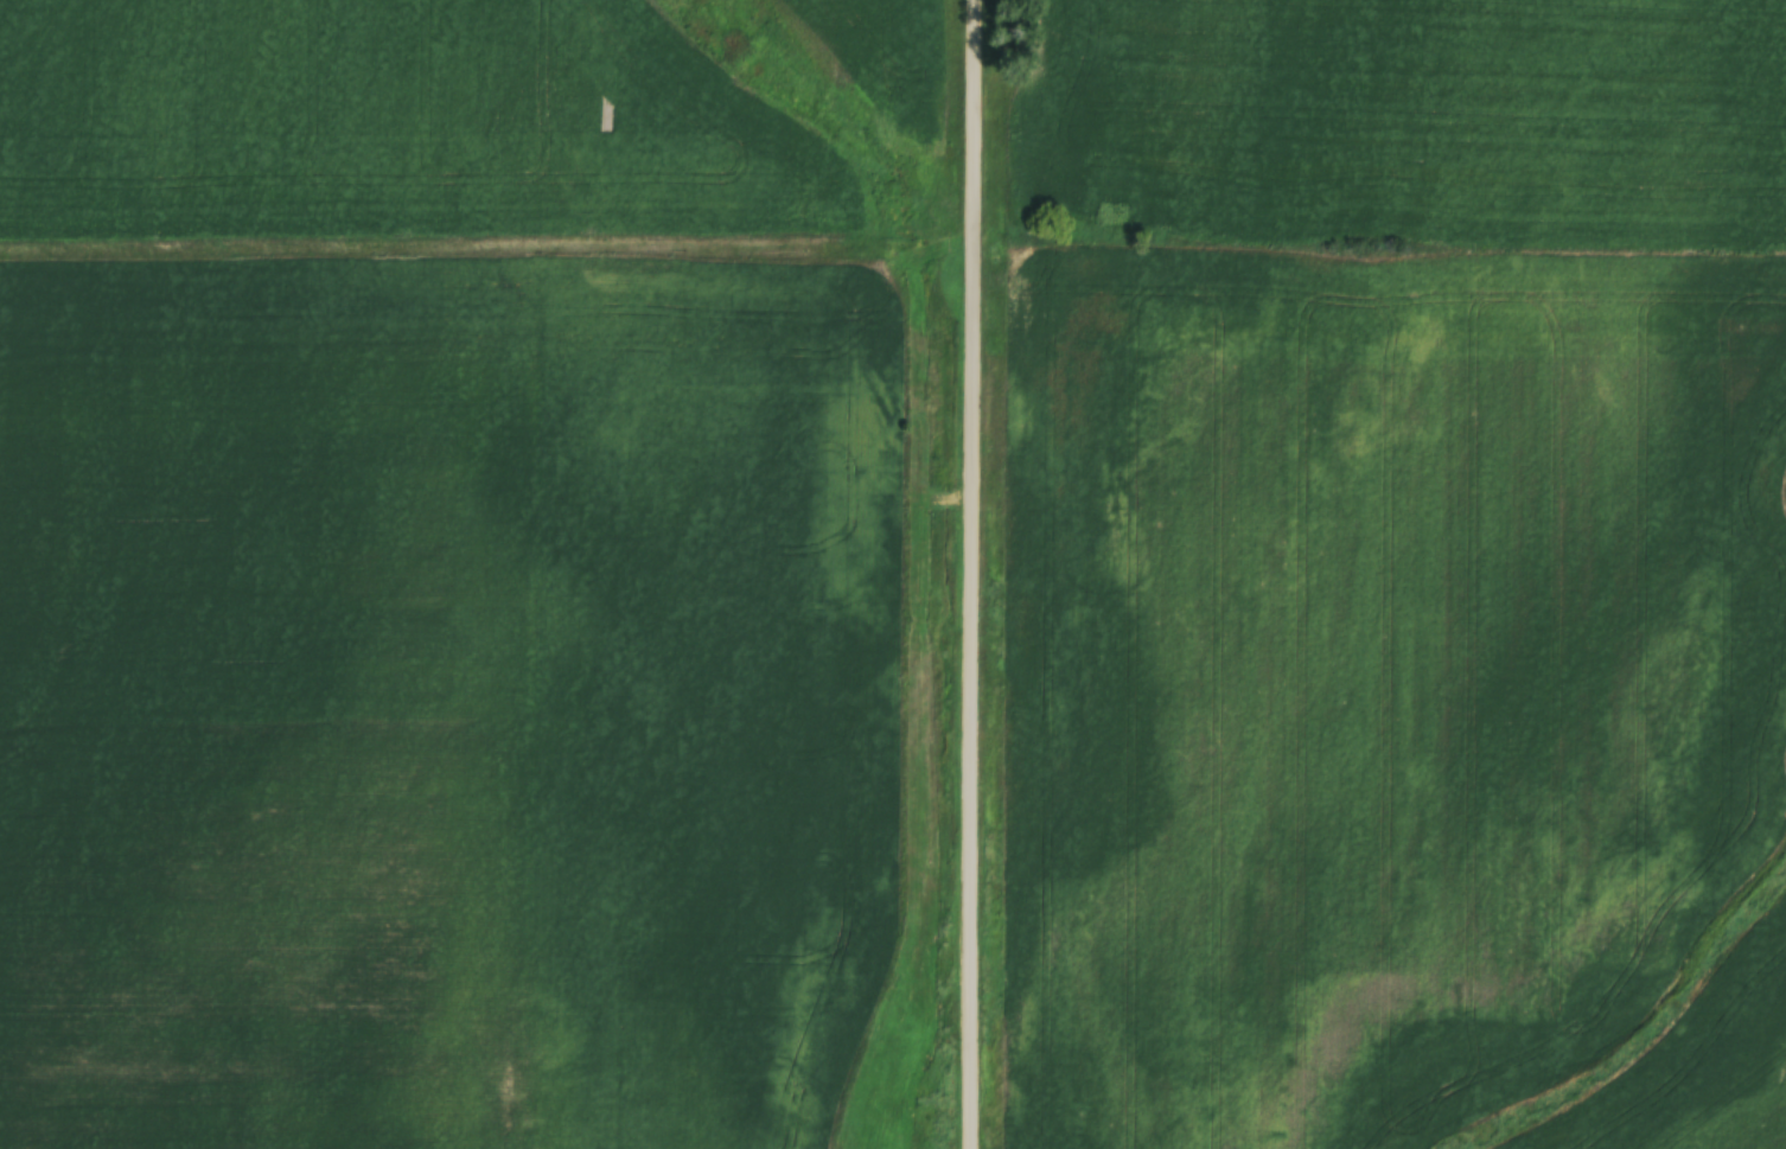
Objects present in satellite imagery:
road: (975, 574)

